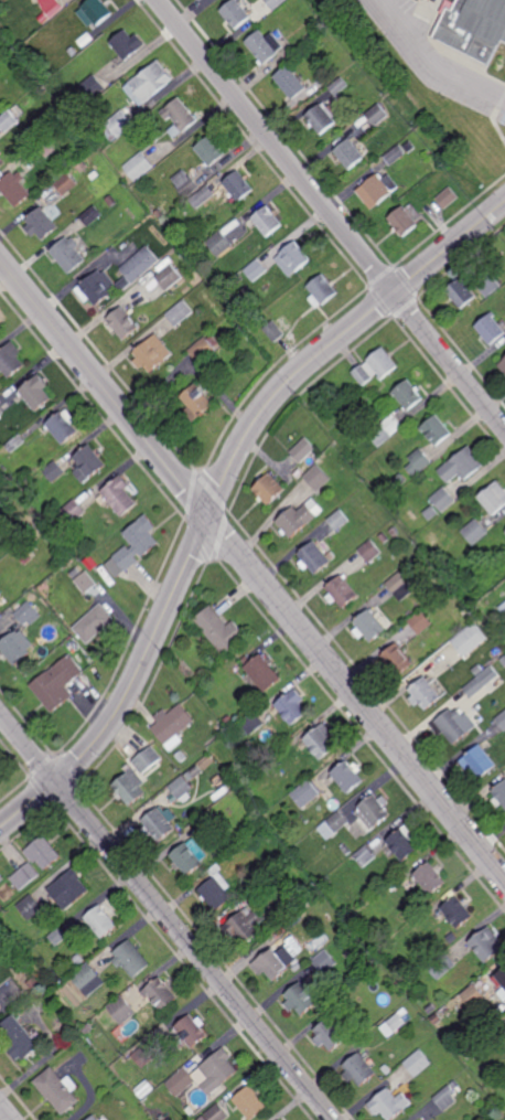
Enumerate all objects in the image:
building: (36, 0)
building: (276, 3)
building: (52, 7)
building: (96, 11)
building: (236, 13)
building: (44, 18)
building: (322, 23)
building: (481, 31)
building: (86, 39)
building: (129, 43)
building: (266, 45)
building: (6, 50)
building: (73, 51)
road: (433, 62)
building: (151, 82)
building: (292, 83)
building: (340, 85)
building: (41, 89)
building: (90, 89)
building: (19, 110)
building: (183, 114)
building: (377, 114)
building: (323, 117)
building: (464, 117)
building: (8, 119)
building: (448, 124)
building: (119, 125)
building: (46, 146)
building: (410, 146)
building: (213, 150)
building: (350, 153)
building: (396, 154)
building: (1, 159)
building: (141, 166)
building: (84, 167)
building: (67, 183)
building: (187, 183)
building: (240, 184)
building: (15, 188)
road: (490, 189)
building: (378, 190)
building: (204, 196)
building: (449, 198)
building: (112, 201)
building: (93, 214)
road: (331, 215)
building: (267, 221)
building: (404, 221)
building: (42, 224)
building: (222, 243)
building: (68, 253)
building: (293, 258)
building: (256, 269)
building: (172, 276)
building: (114, 279)
building: (490, 282)
building: (321, 290)
building: (463, 292)
building: (182, 312)
building: (121, 322)
building: (492, 329)
building: (275, 332)
building: (225, 338)
building: (206, 349)
building: (153, 353)
building: (11, 359)
building: (503, 364)
building: (376, 367)
building: (36, 393)
building: (409, 396)
building: (198, 403)
building: (0, 414)
building: (64, 427)
building: (351, 427)
building: (386, 430)
building: (437, 430)
building: (15, 444)
building: (303, 450)
building: (419, 462)
building: (89, 463)
building: (463, 466)
building: (53, 471)
building: (319, 478)
building: (400, 481)
building: (269, 490)
road: (221, 491)
building: (120, 495)
building: (495, 498)
building: (443, 500)
building: (69, 513)
building: (432, 513)
building: (352, 514)
building: (300, 520)
building: (340, 521)
building: (395, 532)
building: (476, 533)
building: (384, 538)
building: (136, 546)
building: (370, 552)
building: (315, 557)
building: (26, 558)
building: (89, 561)
road: (251, 568)
building: (75, 572)
building: (434, 576)
building: (85, 583)
building: (471, 583)
building: (399, 586)
building: (342, 590)
building: (503, 607)
building: (26, 614)
building: (421, 621)
building: (95, 623)
building: (391, 623)
building: (368, 625)
building: (219, 630)
building: (471, 639)
building: (17, 646)
building: (398, 658)
building: (503, 661)
building: (477, 669)
building: (262, 672)
building: (201, 673)
building: (56, 683)
building: (474, 686)
building: (425, 693)
building: (292, 706)
building: (502, 719)
building: (228, 721)
building: (253, 723)
building: (173, 724)
building: (453, 725)
building: (320, 740)
building: (281, 755)
building: (181, 756)
building: (147, 760)
building: (480, 761)
building: (347, 776)
building: (0, 781)
building: (183, 786)
building: (129, 787)
building: (305, 793)
building: (499, 794)
building: (373, 812)
building: (158, 824)
building: (332, 825)
building: (237, 841)
building: (405, 842)
building: (345, 850)
building: (43, 852)
building: (233, 852)
building: (189, 857)
building: (362, 858)
building: (214, 870)
building: (25, 876)
building: (431, 877)
building: (393, 887)
building: (69, 889)
building: (313, 890)
building: (216, 892)
building: (255, 896)
building: (31, 907)
building: (459, 911)
road: (168, 915)
building: (103, 921)
building: (245, 925)
building: (60, 936)
building: (1, 938)
building: (291, 940)
building: (488, 945)
building: (289, 954)
building: (131, 959)
building: (78, 960)
building: (324, 962)
building: (271, 964)
building: (441, 966)
building: (297, 968)
building: (501, 978)
building: (88, 980)
building: (34, 983)
building: (161, 993)
building: (502, 993)
building: (474, 996)
building: (300, 1000)
building: (0, 1005)
building: (431, 1009)
building: (122, 1011)
building: (437, 1020)
building: (394, 1024)
building: (482, 1024)
building: (88, 1030)
building: (191, 1032)
building: (331, 1035)
building: (20, 1039)
building: (144, 1056)
building: (417, 1064)
building: (387, 1070)
building: (359, 1071)
building: (217, 1073)
building: (380, 1075)
building: (181, 1082)
building: (455, 1086)
building: (58, 1090)
building: (445, 1098)
building: (250, 1103)
building: (389, 1105)
road: (6, 1111)
building: (216, 1113)
building: (96, 1118)

